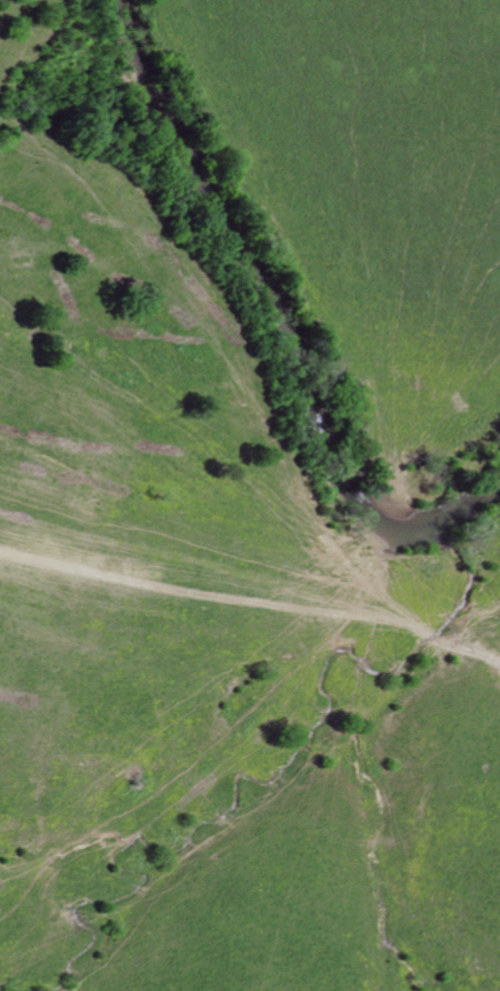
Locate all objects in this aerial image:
road: (257, 587)

